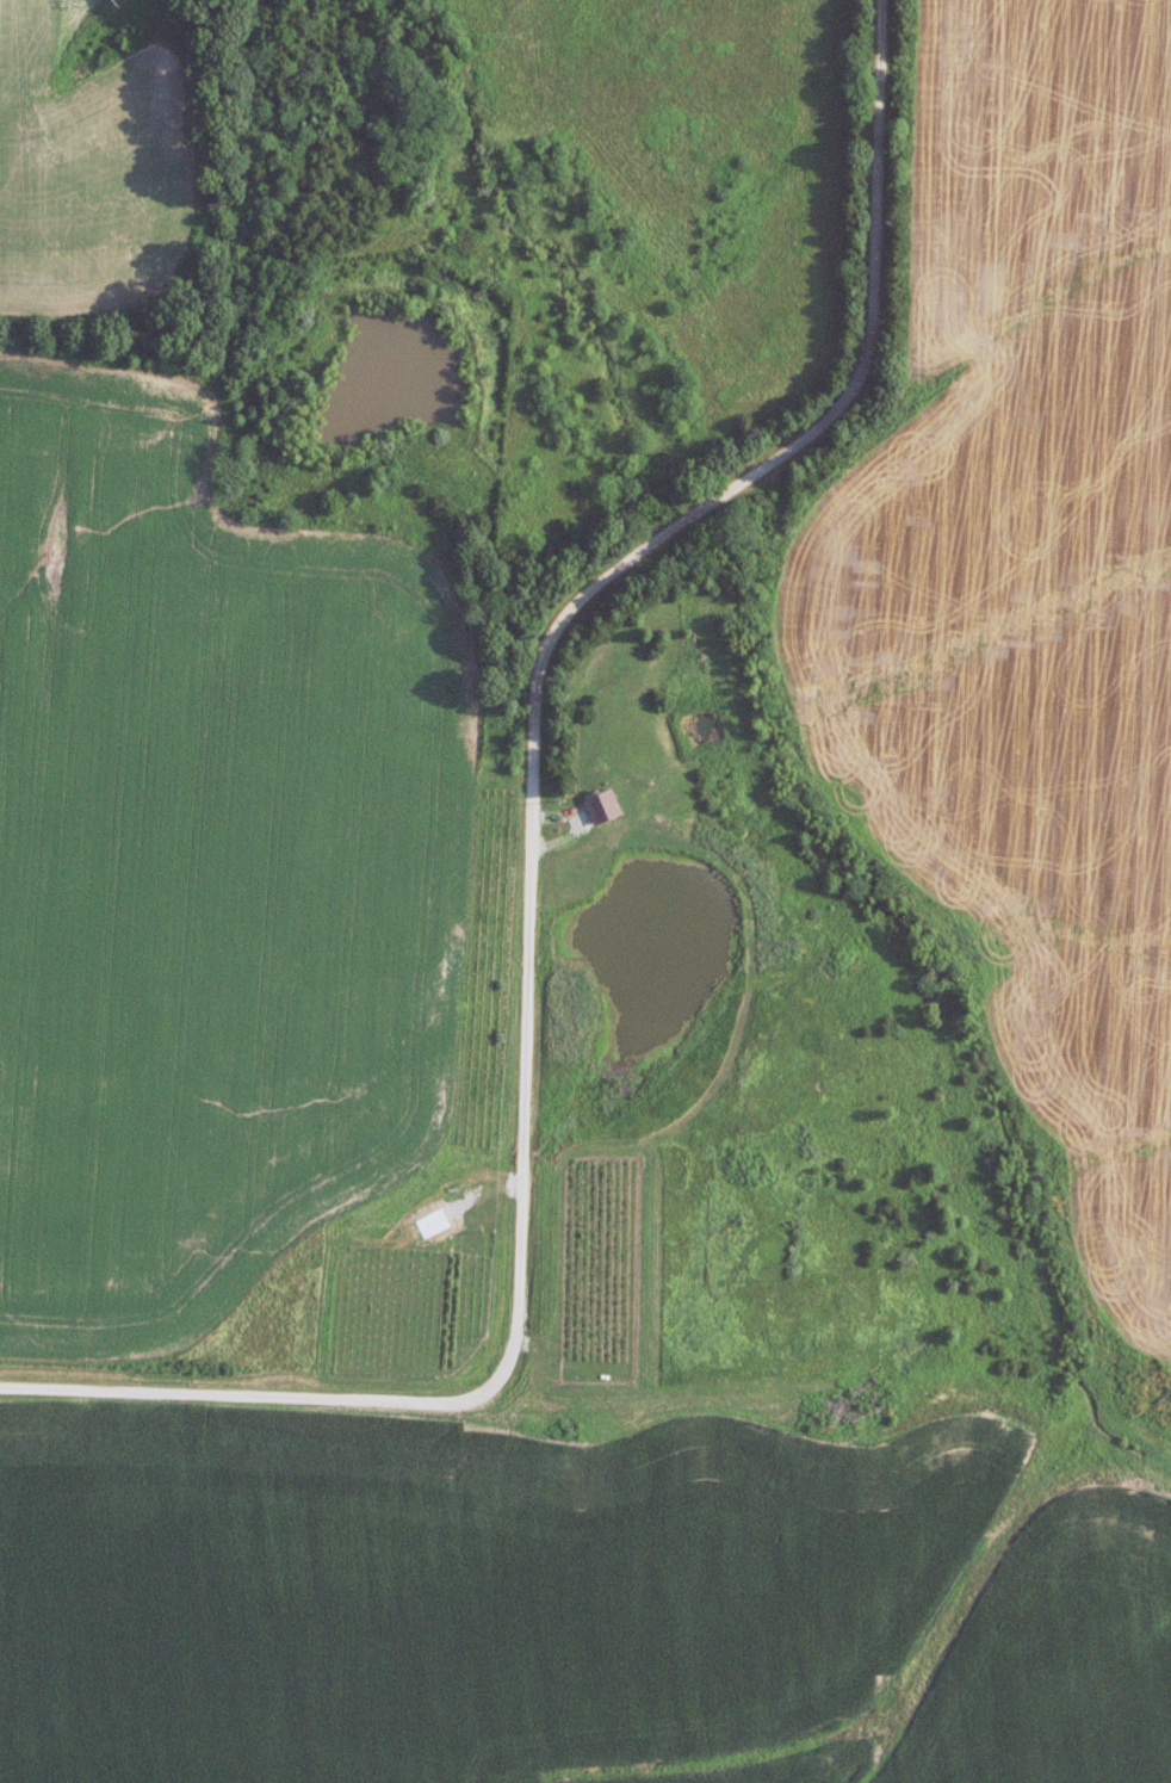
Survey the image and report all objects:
road: (534, 871)

